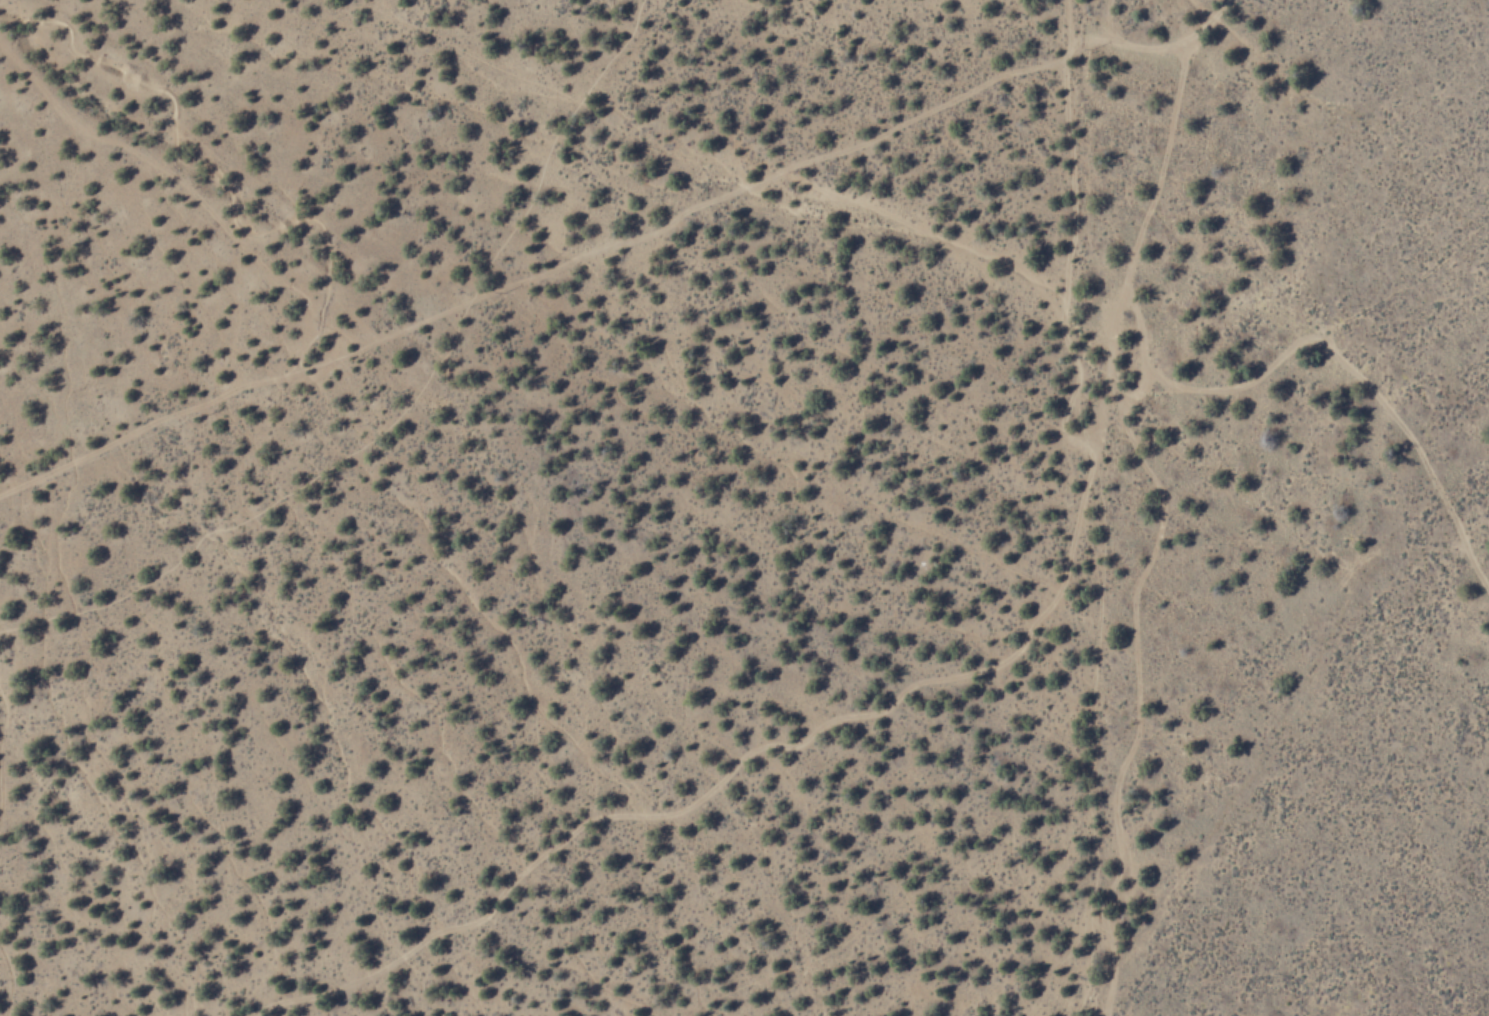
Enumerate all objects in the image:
road: (188, 166)
road: (534, 275)
road: (304, 352)
road: (406, 404)

